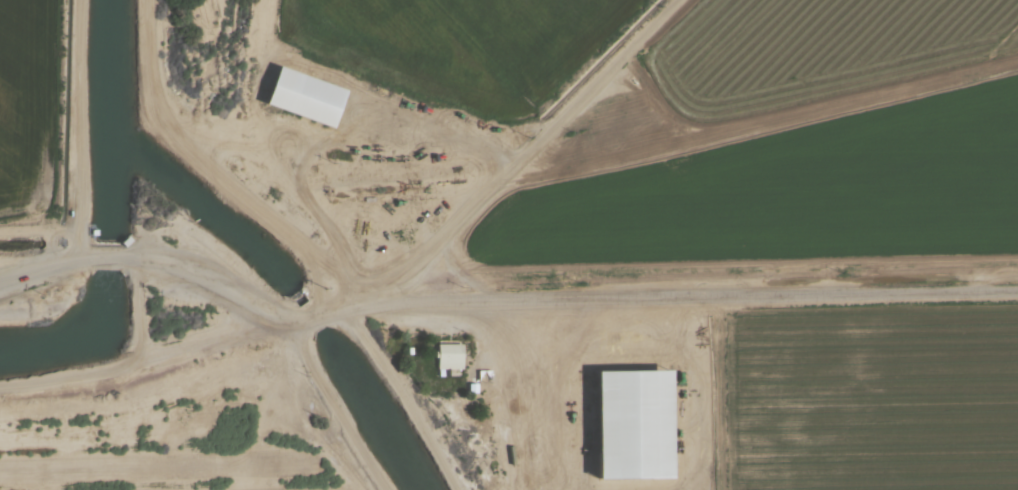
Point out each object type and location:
crop: (468, 43)
crop: (820, 49)
building: (310, 92)
road: (116, 258)
road: (35, 274)
road: (226, 290)
road: (683, 300)
road: (321, 318)
building: (450, 356)
crop: (871, 400)
building: (635, 419)

